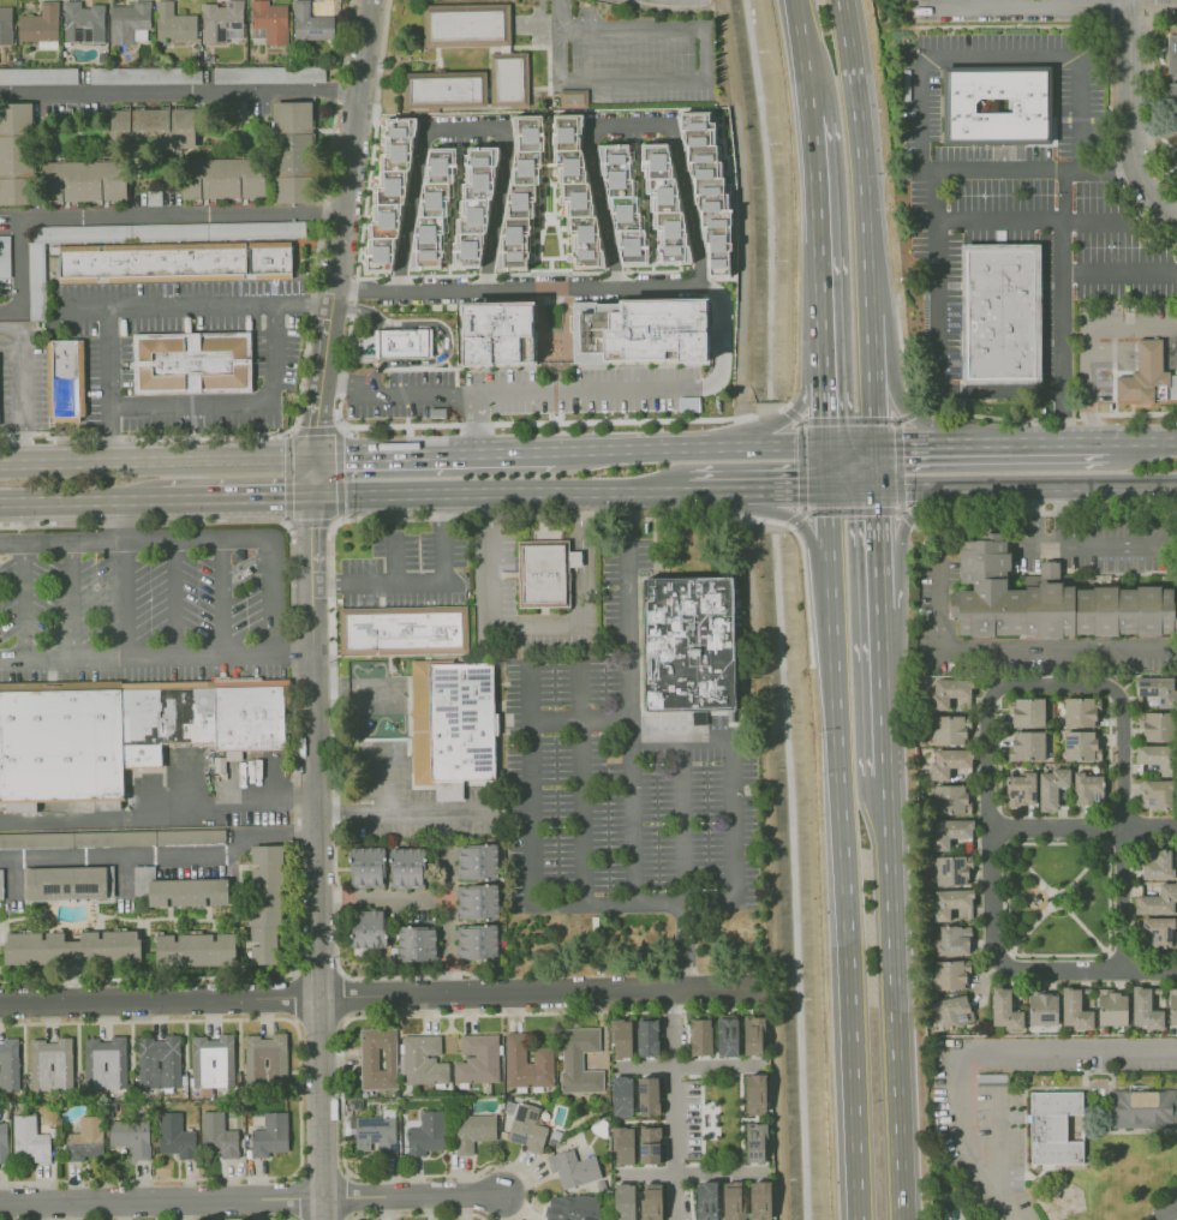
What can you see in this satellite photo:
road: (945, 2)
road: (1046, 5)
road: (661, 7)
road: (558, 14)
building: (222, 22)
building: (84, 23)
building: (130, 23)
building: (269, 23)
building: (311, 23)
building: (174, 24)
building: (6, 26)
building: (41, 26)
building: (482, 44)
road: (345, 46)
building: (1172, 56)
road: (803, 58)
building: (145, 74)
building: (268, 74)
building: (38, 76)
road: (703, 77)
road: (920, 85)
building: (446, 90)
road: (178, 94)
building: (573, 98)
building: (1172, 104)
building: (1029, 107)
road: (1133, 113)
building: (151, 127)
road: (464, 130)
building: (1176, 142)
building: (292, 151)
building: (16, 154)
road: (861, 156)
building: (222, 178)
road: (814, 179)
building: (83, 180)
building: (388, 190)
building: (574, 193)
building: (707, 193)
building: (520, 195)
building: (154, 197)
building: (623, 198)
building: (663, 199)
building: (474, 205)
road: (130, 213)
road: (1057, 220)
road: (1062, 220)
road: (340, 247)
building: (4, 256)
building: (183, 263)
road: (700, 265)
road: (938, 280)
building: (36, 281)
road: (818, 298)
road: (1061, 298)
road: (143, 309)
building: (1000, 312)
building: (638, 330)
road: (441, 331)
building: (496, 333)
road: (724, 335)
road: (1087, 339)
road: (870, 341)
building: (405, 343)
road: (1142, 354)
building: (190, 361)
building: (1143, 375)
building: (64, 381)
road: (20, 385)
road: (587, 390)
road: (806, 390)
road: (1000, 391)
road: (426, 395)
road: (823, 399)
road: (234, 403)
road: (872, 406)
road: (295, 407)
road: (903, 408)
road: (769, 412)
road: (790, 412)
road: (910, 414)
road: (340, 417)
road: (800, 421)
road: (803, 421)
road: (848, 421)
road: (894, 421)
road: (896, 421)
traffic signals: (315, 426)
road: (342, 426)
road: (767, 431)
road: (1024, 442)
road: (1142, 442)
road: (805, 444)
traffic signals: (825, 444)
road: (849, 444)
traffic signals: (873, 444)
road: (908, 444)
road: (770, 445)
road: (656, 448)
road: (434, 454)
traffic signals: (340, 456)
road: (156, 461)
road: (801, 466)
road: (825, 466)
road: (874, 466)
road: (898, 466)
road: (1026, 486)
road: (850, 488)
traffic signals: (876, 488)
road: (806, 489)
traffic signals: (826, 489)
road: (703, 490)
road: (753, 490)
road: (497, 492)
road: (237, 497)
traffic signals: (283, 497)
road: (80, 500)
road: (752, 507)
road: (802, 508)
road: (901, 508)
road: (898, 510)
road: (803, 512)
road: (852, 512)
road: (1061, 514)
road: (1038, 515)
road: (120, 518)
road: (908, 519)
road: (793, 520)
road: (770, 521)
road: (907, 521)
road: (287, 524)
road: (781, 524)
road: (876, 524)
road: (828, 527)
traffic signals: (310, 531)
road: (330, 532)
road: (211, 536)
road: (809, 539)
road: (1094, 544)
road: (394, 558)
building: (548, 575)
road: (422, 584)
road: (879, 584)
road: (805, 592)
road: (175, 594)
road: (223, 594)
road: (124, 596)
road: (24, 597)
road: (71, 597)
building: (1047, 602)
road: (628, 605)
road: (539, 624)
building: (406, 632)
building: (692, 646)
road: (1016, 646)
road: (137, 653)
building: (1158, 689)
road: (883, 692)
building: (945, 692)
road: (531, 693)
building: (1024, 712)
building: (1079, 712)
building: (1157, 726)
building: (458, 730)
building: (946, 730)
road: (724, 735)
building: (126, 736)
building: (1027, 746)
building: (1080, 746)
road: (294, 752)
building: (1157, 758)
building: (949, 761)
road: (581, 783)
building: (1051, 787)
building: (1087, 788)
road: (384, 789)
building: (1020, 789)
building: (1155, 794)
building: (948, 799)
road: (532, 805)
road: (156, 807)
road: (398, 817)
road: (683, 819)
road: (1121, 826)
road: (1082, 827)
building: (948, 832)
building: (112, 838)
road: (990, 854)
road: (162, 856)
road: (316, 857)
building: (476, 861)
building: (365, 865)
building: (1157, 865)
building: (405, 867)
building: (949, 869)
building: (65, 881)
building: (1, 884)
building: (179, 889)
road: (844, 893)
road: (382, 898)
building: (477, 901)
building: (1158, 901)
building: (264, 902)
building: (949, 902)
building: (958, 914)
road: (446, 921)
building: (366, 927)
building: (1155, 931)
building: (951, 940)
building: (414, 941)
building: (477, 941)
building: (71, 947)
building: (195, 949)
road: (339, 971)
road: (293, 973)
building: (950, 975)
road: (419, 976)
road: (376, 993)
road: (892, 997)
building: (952, 1007)
building: (1111, 1007)
building: (1172, 1007)
building: (1042, 1009)
building: (1143, 1009)
building: (1004, 1010)
building: (1074, 1010)
road: (340, 1017)
road: (343, 1018)
road: (293, 1019)
road: (345, 1019)
building: (725, 1035)
building: (751, 1035)
building: (699, 1036)
building: (619, 1037)
building: (646, 1037)
road: (979, 1048)
building: (377, 1058)
building: (477, 1058)
building: (265, 1059)
building: (423, 1059)
building: (578, 1059)
building: (159, 1060)
building: (211, 1060)
building: (103, 1061)
building: (526, 1061)
road: (719, 1063)
building: (8, 1064)
building: (50, 1064)
building: (754, 1092)
building: (620, 1095)
building: (647, 1095)
road: (299, 1098)
road: (680, 1106)
building: (1141, 1108)
building: (526, 1128)
building: (1052, 1128)
building: (472, 1130)
building: (376, 1132)
building: (425, 1134)
building: (269, 1135)
building: (130, 1136)
building: (174, 1136)
building: (217, 1136)
building: (84, 1138)
building: (29, 1140)
building: (2, 1142)
building: (754, 1142)
building: (647, 1143)
building: (621, 1144)
road: (996, 1144)
building: (572, 1168)
road: (719, 1172)
road: (297, 1174)
road: (346, 1174)
road: (341, 1177)
road: (410, 1194)
road: (160, 1200)
building: (759, 1200)
building: (638, 1201)
building: (705, 1201)
building: (734, 1202)
building: (1166, 1208)
building: (570, 1209)
road: (418, 1213)
road: (243, 1218)
road: (346, 1218)

